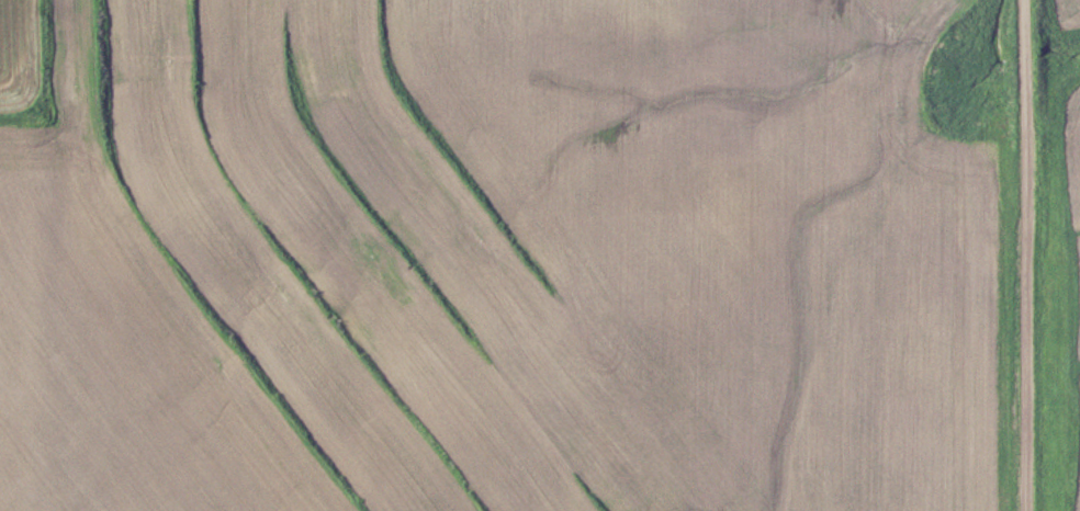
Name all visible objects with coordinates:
road: (1054, 98)
road: (1028, 254)

